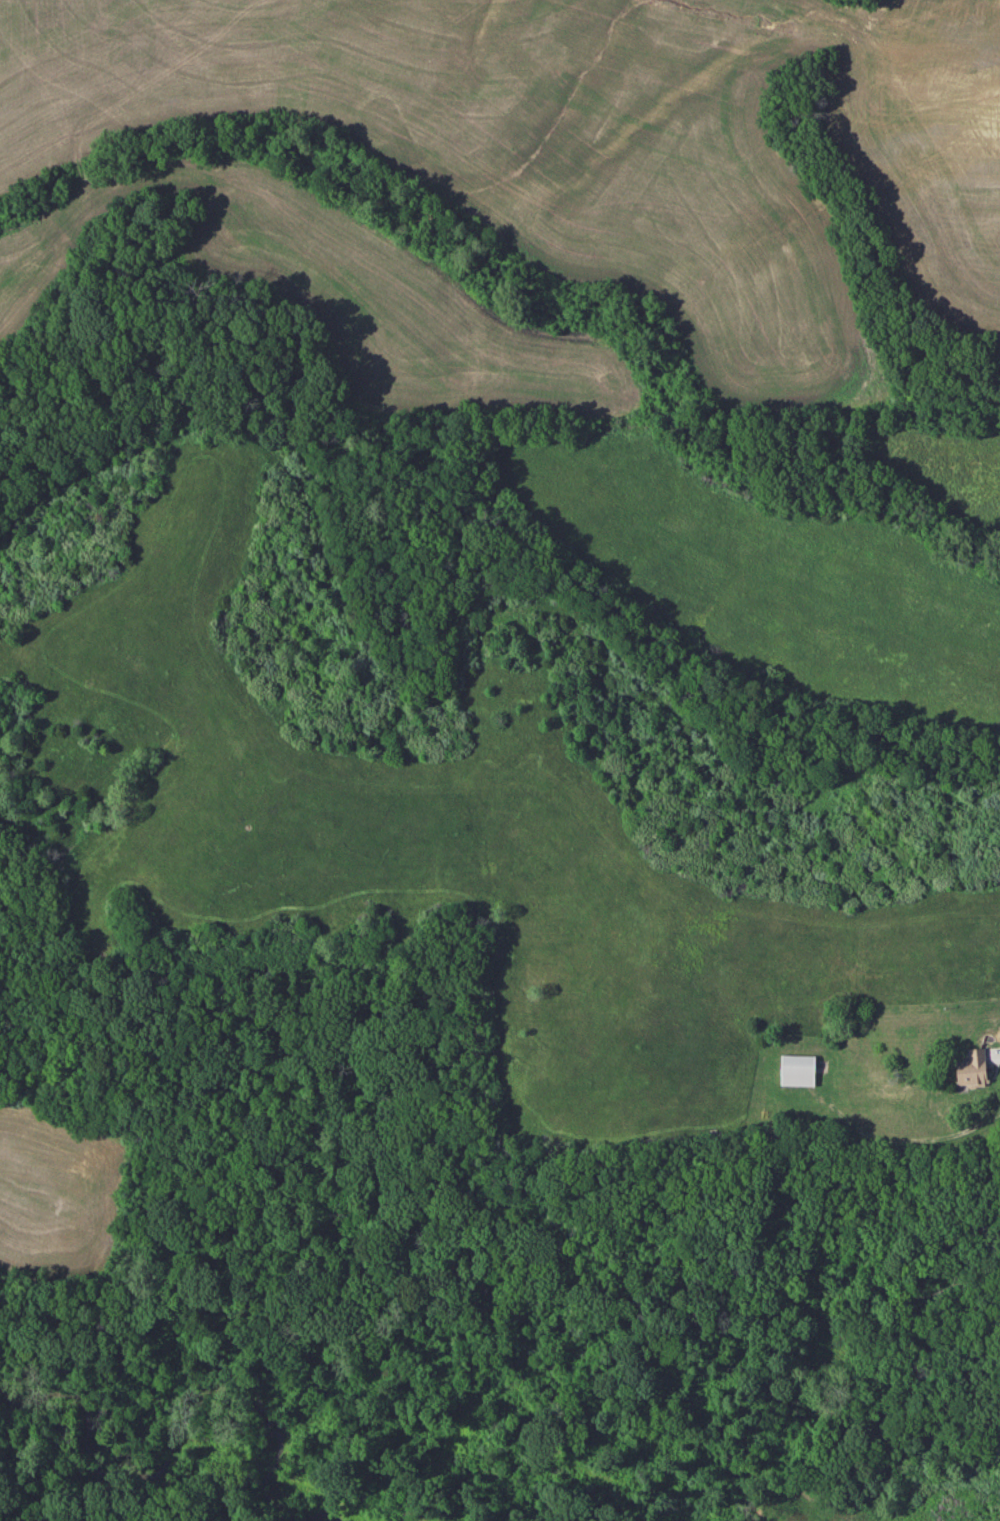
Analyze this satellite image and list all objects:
building: (796, 1070)

